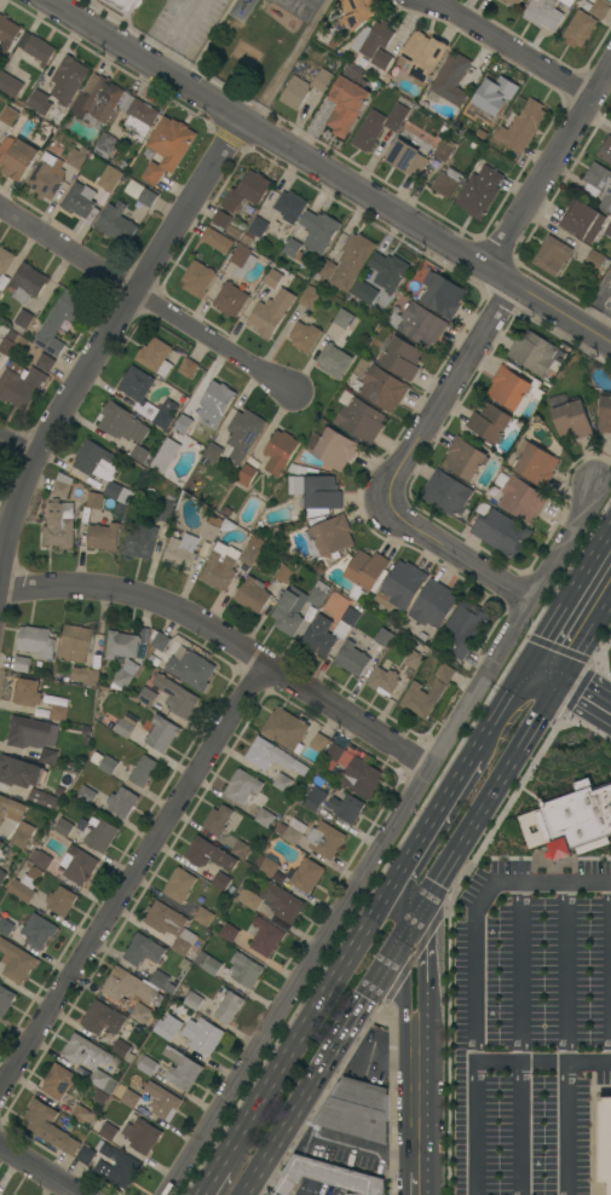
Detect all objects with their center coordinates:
building: (513, 2)
building: (567, 2)
building: (125, 5)
building: (599, 8)
building: (357, 12)
building: (543, 13)
building: (578, 28)
building: (7, 31)
road: (183, 34)
building: (373, 37)
building: (35, 50)
road: (507, 52)
building: (422, 56)
building: (381, 59)
road: (288, 60)
building: (68, 80)
building: (322, 80)
building: (450, 80)
building: (10, 85)
building: (490, 88)
building: (294, 93)
building: (479, 97)
building: (97, 99)
building: (347, 100)
building: (40, 103)
building: (10, 114)
building: (137, 116)
building: (492, 116)
building: (396, 117)
building: (521, 127)
building: (369, 131)
building: (105, 145)
building: (167, 146)
building: (444, 149)
building: (605, 151)
building: (17, 157)
building: (76, 158)
building: (407, 158)
road: (551, 164)
road: (330, 168)
building: (46, 178)
building: (111, 181)
building: (448, 181)
building: (599, 184)
building: (246, 191)
building: (140, 192)
building: (479, 192)
building: (79, 200)
building: (289, 206)
building: (610, 214)
building: (221, 219)
building: (582, 220)
building: (116, 224)
building: (258, 226)
building: (236, 229)
building: (299, 230)
building: (609, 230)
building: (318, 231)
building: (247, 238)
building: (219, 242)
building: (294, 250)
building: (552, 255)
building: (594, 259)
building: (5, 260)
building: (242, 260)
building: (351, 261)
building: (325, 269)
building: (388, 271)
building: (273, 276)
building: (197, 278)
building: (2, 281)
building: (27, 283)
building: (364, 291)
building: (0, 293)
building: (442, 294)
building: (309, 296)
road: (146, 298)
building: (230, 299)
building: (271, 312)
building: (23, 318)
building: (346, 319)
building: (59, 321)
building: (417, 324)
road: (102, 330)
building: (305, 334)
building: (8, 346)
building: (534, 352)
building: (155, 356)
building: (399, 357)
building: (334, 360)
building: (45, 363)
building: (188, 368)
building: (136, 383)
building: (21, 386)
building: (382, 388)
building: (508, 388)
road: (440, 398)
building: (557, 399)
building: (160, 412)
building: (209, 412)
building: (605, 414)
building: (361, 420)
building: (571, 420)
building: (489, 422)
building: (122, 423)
building: (180, 428)
building: (242, 434)
road: (17, 441)
building: (335, 448)
building: (279, 451)
building: (212, 452)
building: (142, 455)
building: (165, 455)
building: (463, 458)
building: (96, 461)
building: (535, 463)
building: (300, 469)
building: (246, 475)
building: (62, 485)
building: (117, 492)
building: (318, 492)
building: (446, 492)
building: (521, 498)
building: (94, 500)
building: (166, 510)
building: (316, 514)
building: (59, 525)
building: (209, 531)
building: (501, 533)
road: (610, 533)
building: (104, 537)
building: (329, 537)
building: (140, 541)
building: (203, 549)
building: (180, 552)
building: (250, 552)
road: (466, 559)
building: (198, 564)
building: (219, 568)
building: (367, 570)
building: (284, 573)
building: (400, 585)
road: (576, 589)
building: (252, 594)
building: (433, 604)
building: (296, 606)
building: (346, 623)
building: (465, 628)
road: (587, 634)
building: (319, 636)
building: (384, 637)
building: (36, 641)
building: (158, 641)
building: (75, 642)
building: (185, 642)
building: (121, 645)
road: (224, 645)
road: (537, 651)
building: (352, 658)
building: (414, 659)
traffic signals: (532, 659)
building: (154, 660)
building: (22, 664)
road: (547, 666)
building: (190, 668)
road: (525, 670)
traffic signals: (563, 674)
building: (86, 675)
building: (125, 675)
building: (384, 681)
traffic signals: (518, 681)
road: (555, 685)
building: (152, 687)
road: (587, 687)
road: (534, 688)
building: (27, 692)
building: (415, 692)
traffic signals: (549, 695)
building: (179, 699)
building: (54, 700)
road: (580, 710)
building: (36, 711)
building: (58, 712)
building: (131, 717)
road: (491, 721)
building: (123, 728)
building: (284, 729)
building: (31, 733)
building: (162, 734)
building: (319, 743)
building: (47, 756)
building: (272, 756)
building: (335, 757)
building: (108, 764)
building: (143, 770)
building: (21, 772)
building: (361, 777)
building: (62, 781)
building: (282, 781)
building: (242, 786)
building: (340, 793)
building: (86, 795)
building: (315, 798)
building: (44, 799)
building: (122, 802)
road: (484, 802)
road: (440, 803)
building: (10, 808)
building: (346, 808)
building: (265, 818)
building: (218, 820)
building: (570, 821)
building: (63, 827)
building: (290, 831)
building: (22, 835)
building: (100, 835)
road: (490, 835)
building: (324, 839)
road: (382, 839)
building: (1, 844)
building: (241, 849)
building: (208, 854)
building: (40, 860)
building: (79, 865)
building: (265, 865)
building: (34, 872)
building: (305, 874)
building: (2, 876)
road: (129, 878)
building: (221, 881)
building: (179, 884)
building: (23, 889)
road: (399, 893)
building: (252, 900)
building: (60, 901)
building: (282, 901)
traffic signals: (397, 901)
building: (203, 917)
building: (5, 926)
building: (169, 926)
road: (413, 926)
road: (610, 930)
building: (38, 931)
building: (227, 933)
building: (265, 937)
building: (143, 949)
traffic signals: (426, 949)
road: (403, 957)
building: (201, 958)
road: (425, 960)
building: (16, 962)
building: (212, 966)
building: (244, 970)
road: (319, 970)
road: (567, 974)
building: (158, 978)
road: (475, 978)
building: (127, 986)
building: (237, 987)
building: (5, 999)
traffic signals: (368, 999)
building: (192, 1000)
road: (317, 1004)
building: (226, 1005)
road: (404, 1008)
building: (139, 1012)
building: (102, 1018)
road: (410, 1021)
building: (167, 1027)
building: (202, 1035)
road: (520, 1040)
road: (421, 1041)
building: (121, 1049)
building: (85, 1052)
building: (172, 1053)
road: (542, 1061)
building: (146, 1066)
road: (323, 1069)
building: (184, 1073)
building: (58, 1081)
building: (103, 1081)
road: (601, 1089)
building: (129, 1098)
building: (162, 1101)
building: (357, 1109)
building: (83, 1116)
road: (417, 1121)
building: (48, 1127)
road: (567, 1127)
road: (590, 1127)
building: (108, 1131)
building: (140, 1135)
building: (605, 1139)
road: (352, 1142)
building: (85, 1155)
building: (120, 1166)
road: (39, 1170)
building: (327, 1177)
road: (209, 1179)
road: (416, 1183)
building: (2, 1194)

